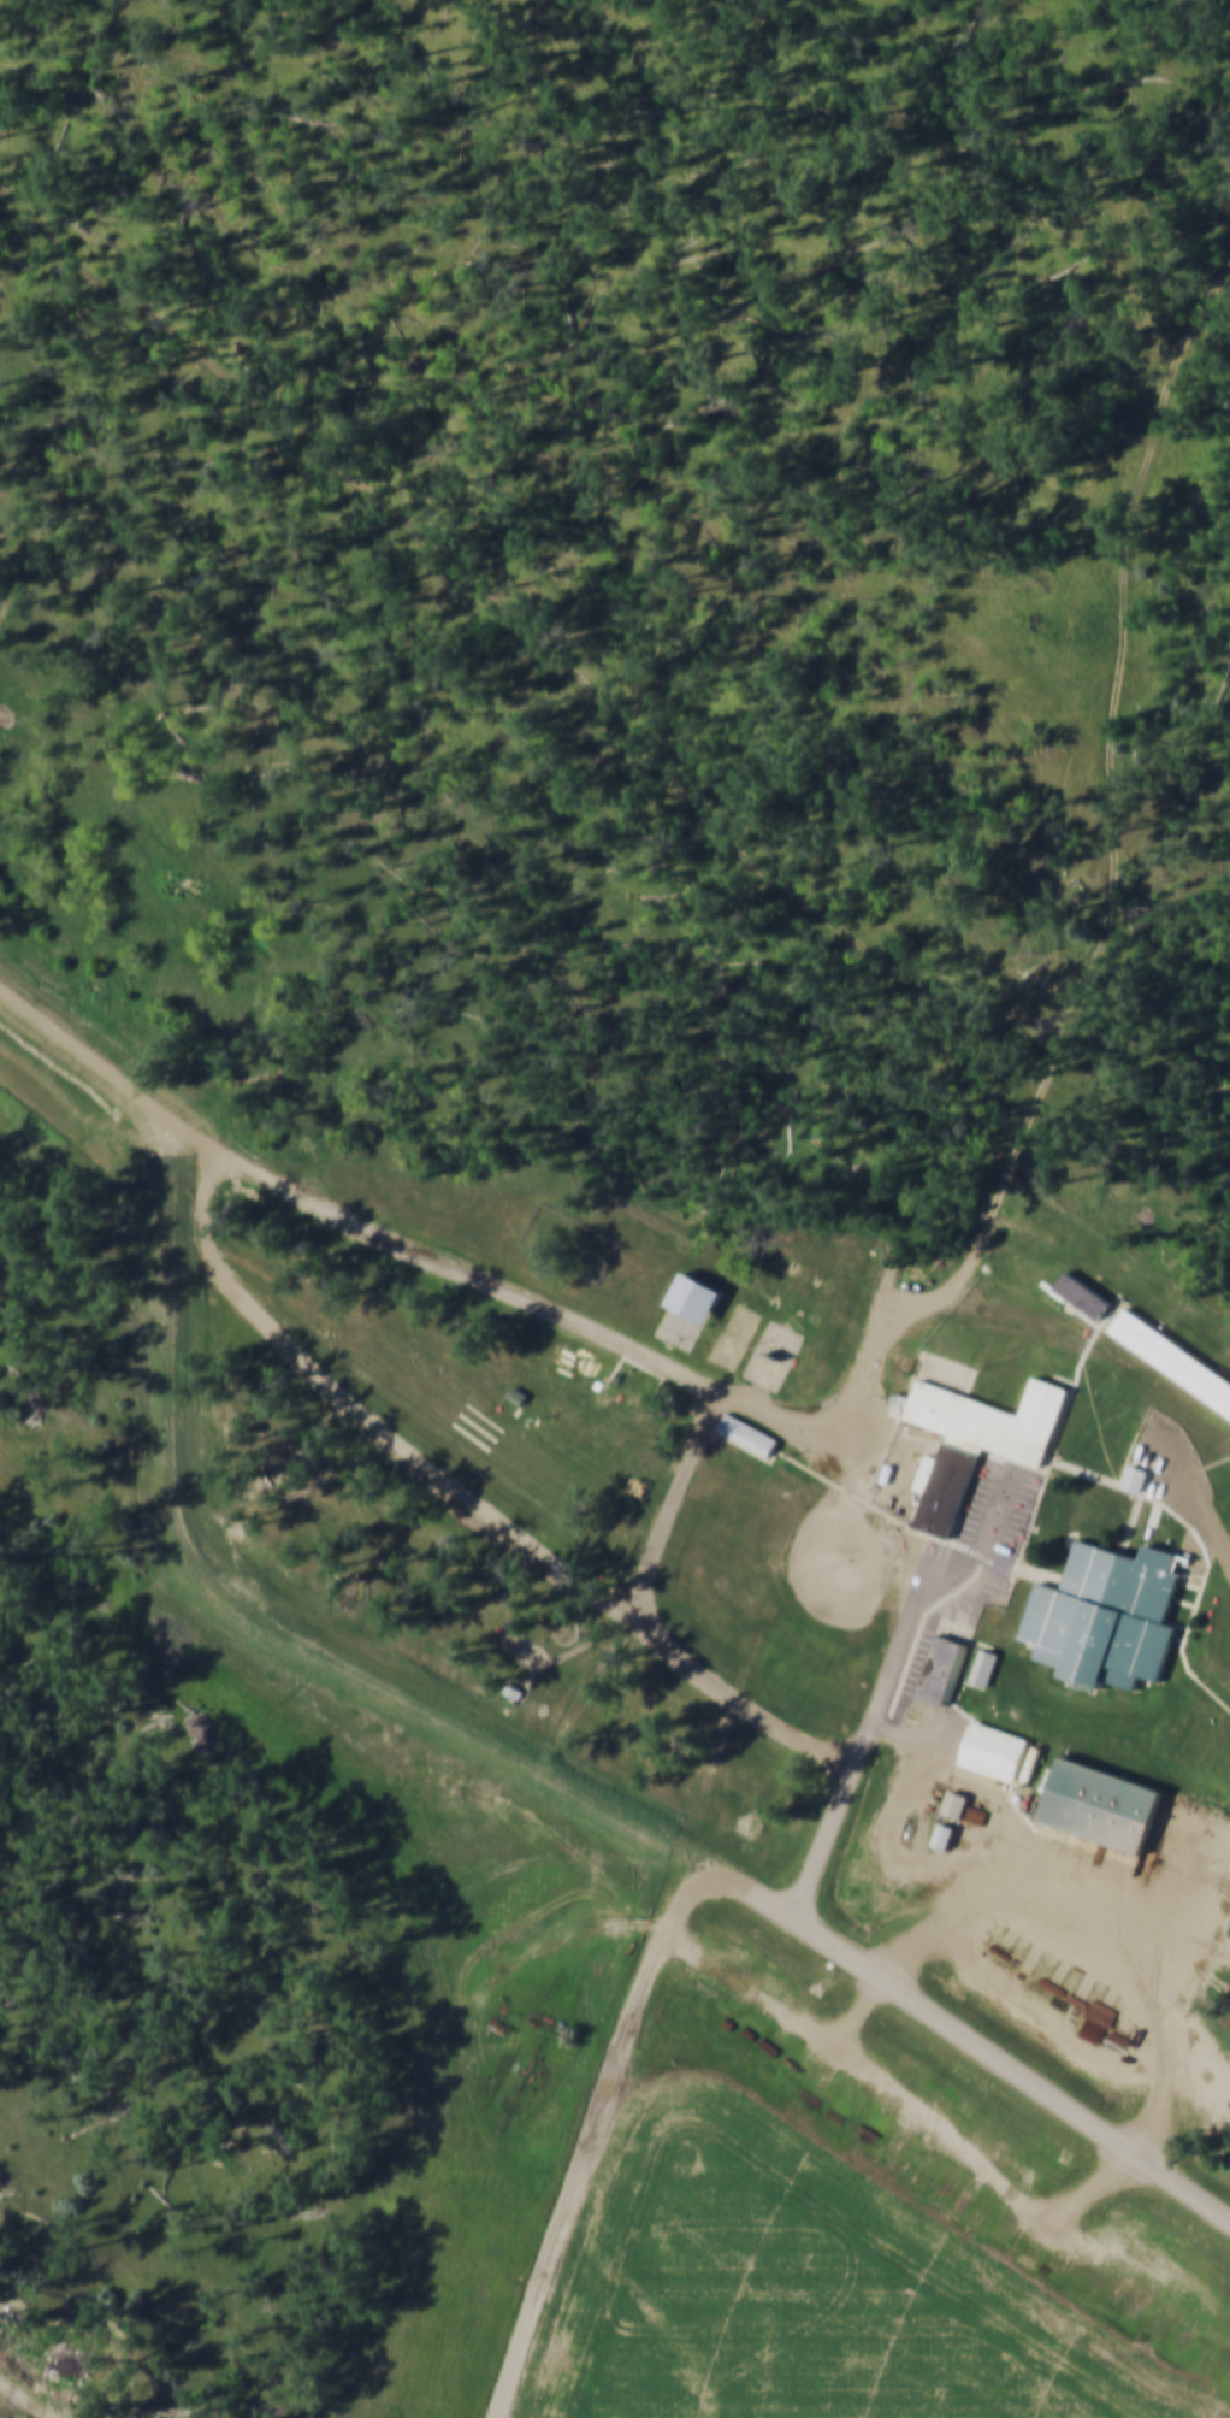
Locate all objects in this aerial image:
road: (1113, 813)
road: (504, 1287)
building: (693, 1291)
building: (1082, 1293)
building: (936, 1341)
building: (1175, 1354)
building: (515, 1392)
building: (750, 1429)
building: (977, 1435)
building: (1154, 1470)
road: (449, 1488)
park: (788, 1594)
building: (1105, 1616)
building: (942, 1664)
building: (984, 1665)
road: (888, 1681)
building: (995, 1747)
building: (596, 1767)
building: (1104, 1799)
building: (953, 1800)
building: (942, 1830)
road: (708, 1879)
road: (584, 2143)
road: (29, 2399)

